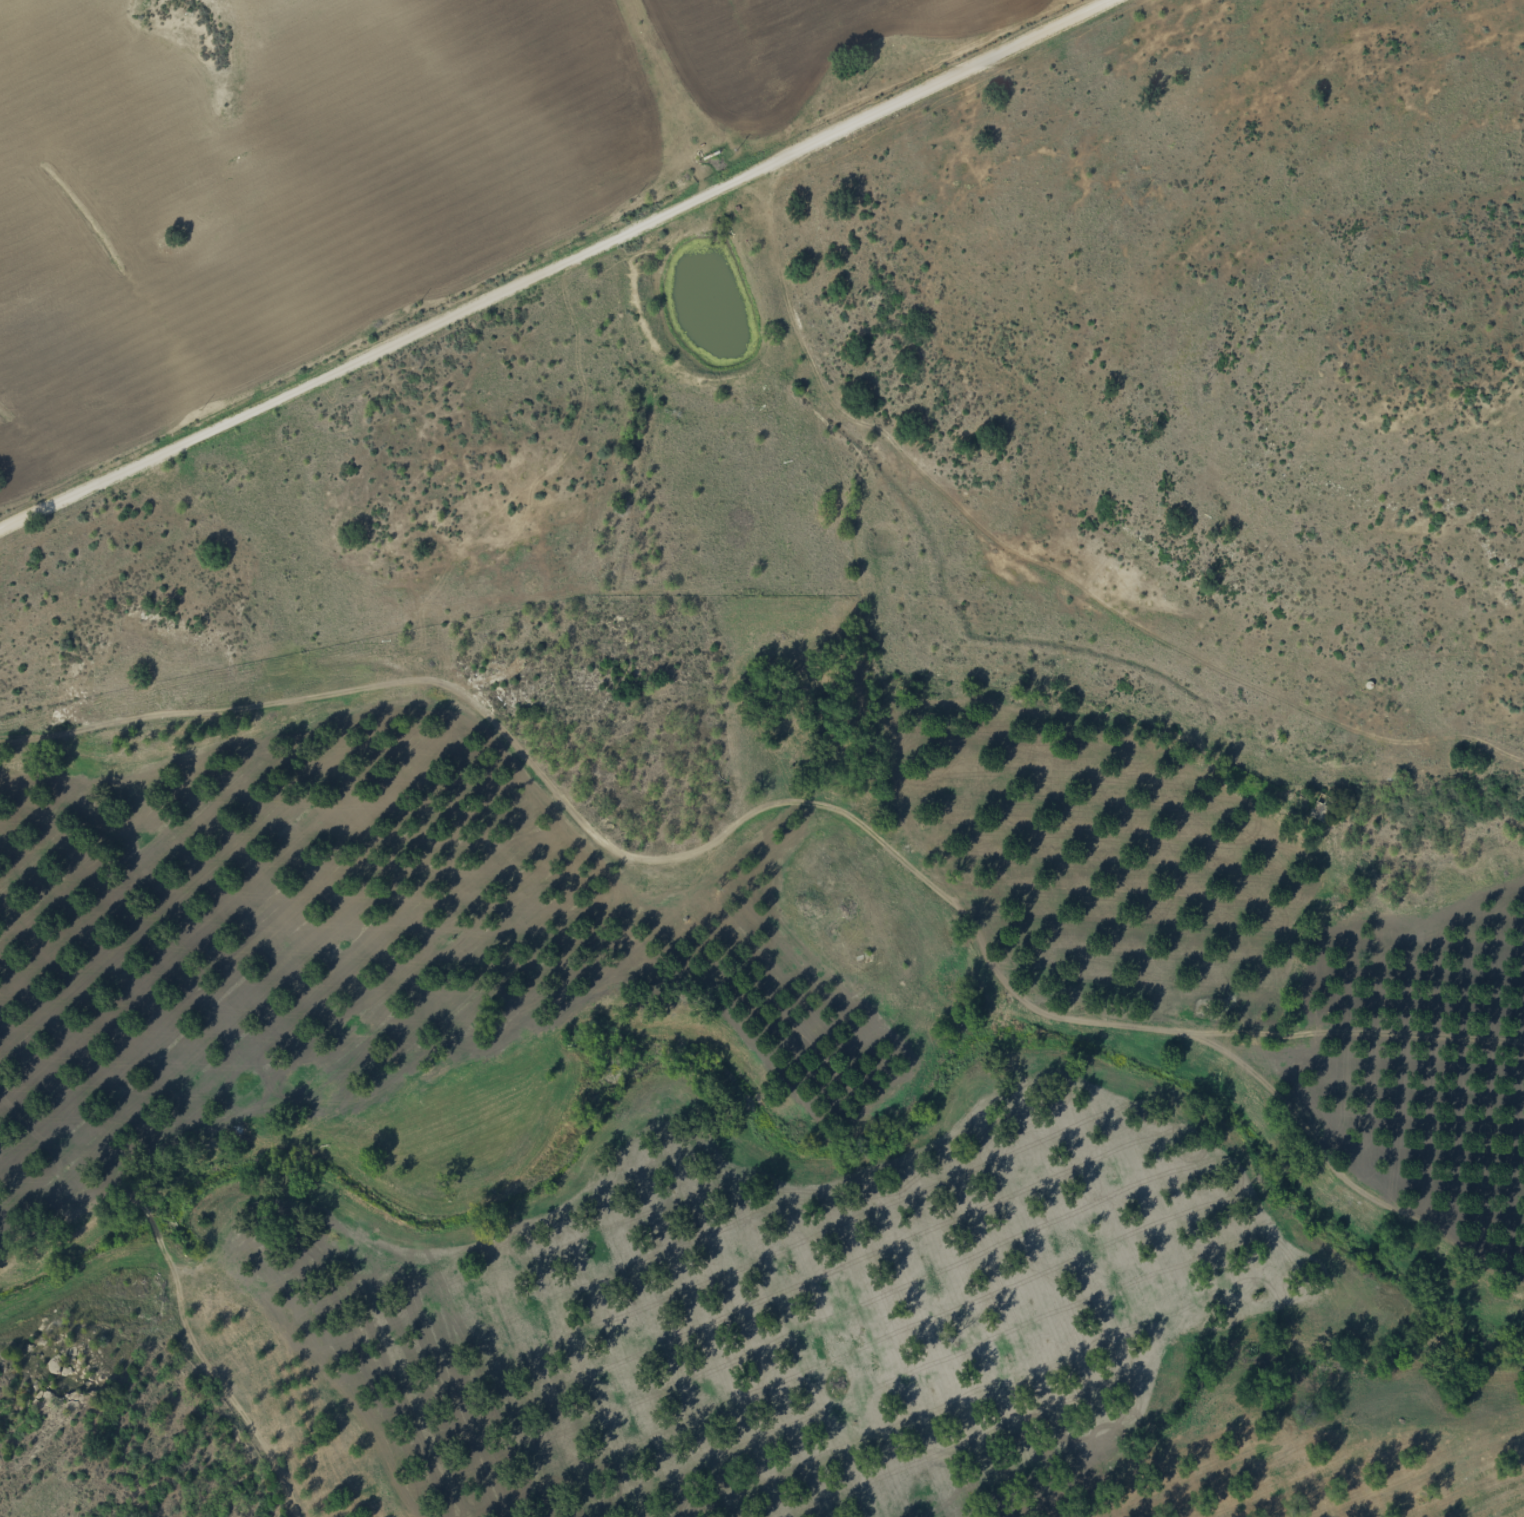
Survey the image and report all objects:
road: (552, 266)

